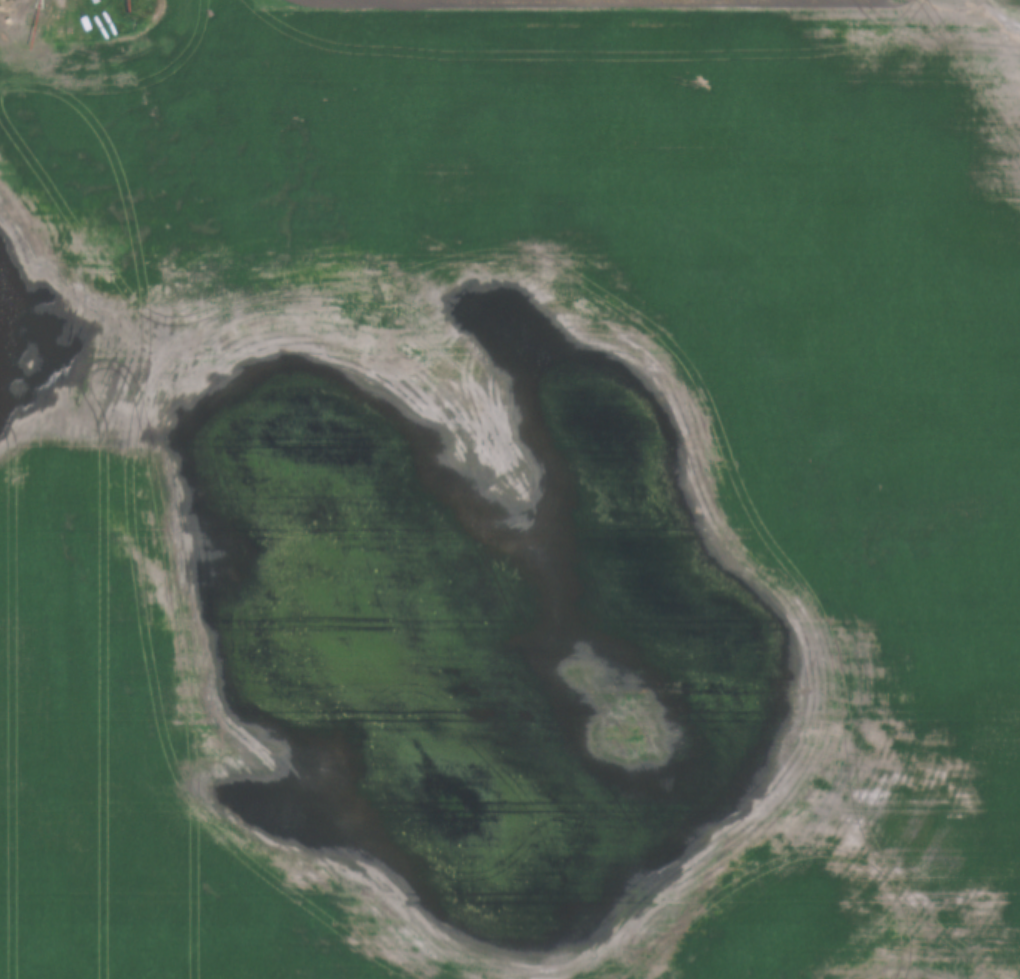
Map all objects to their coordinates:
road: (23, 7)
crop: (124, 71)

